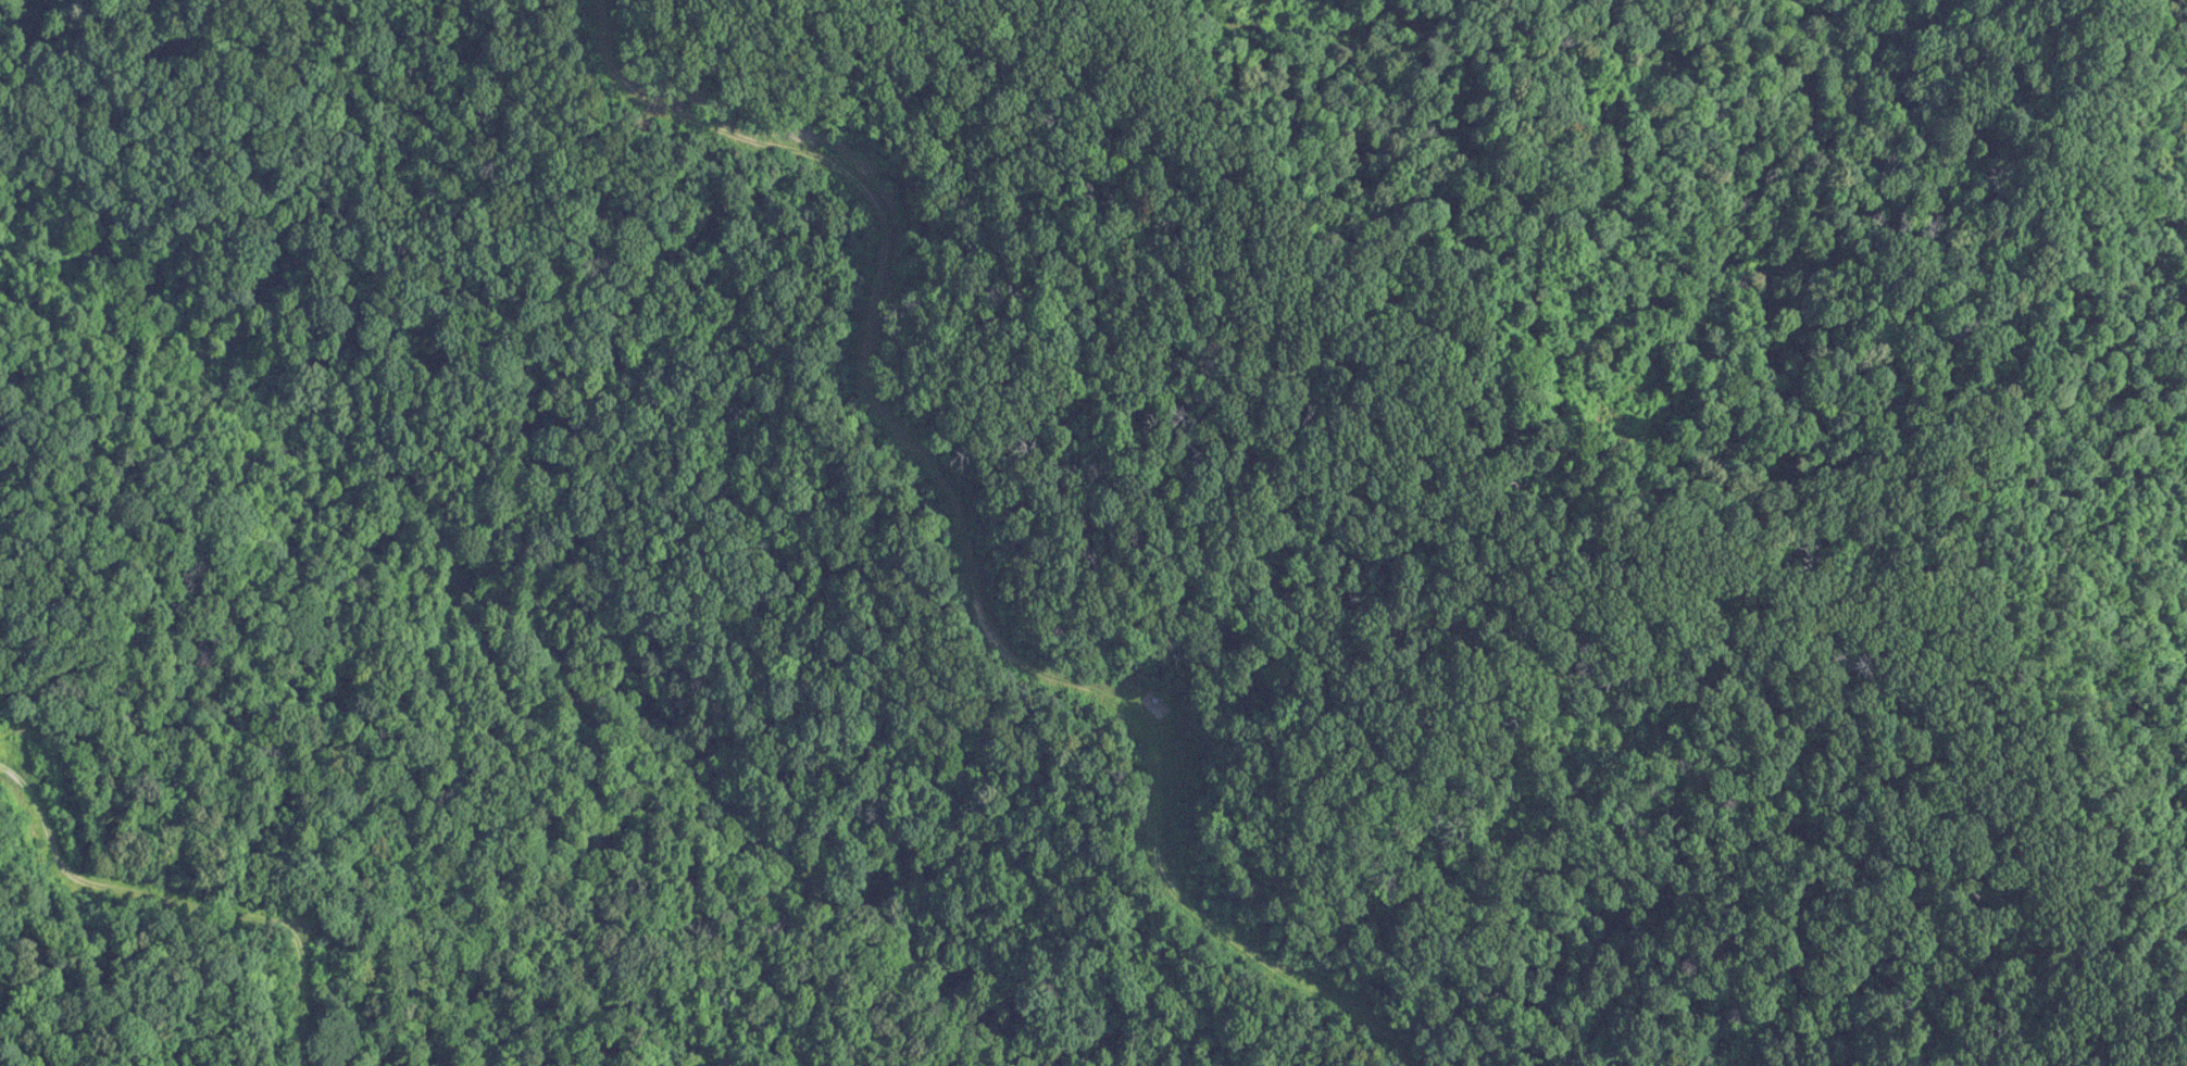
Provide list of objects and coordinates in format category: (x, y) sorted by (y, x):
road: (190, 710)

